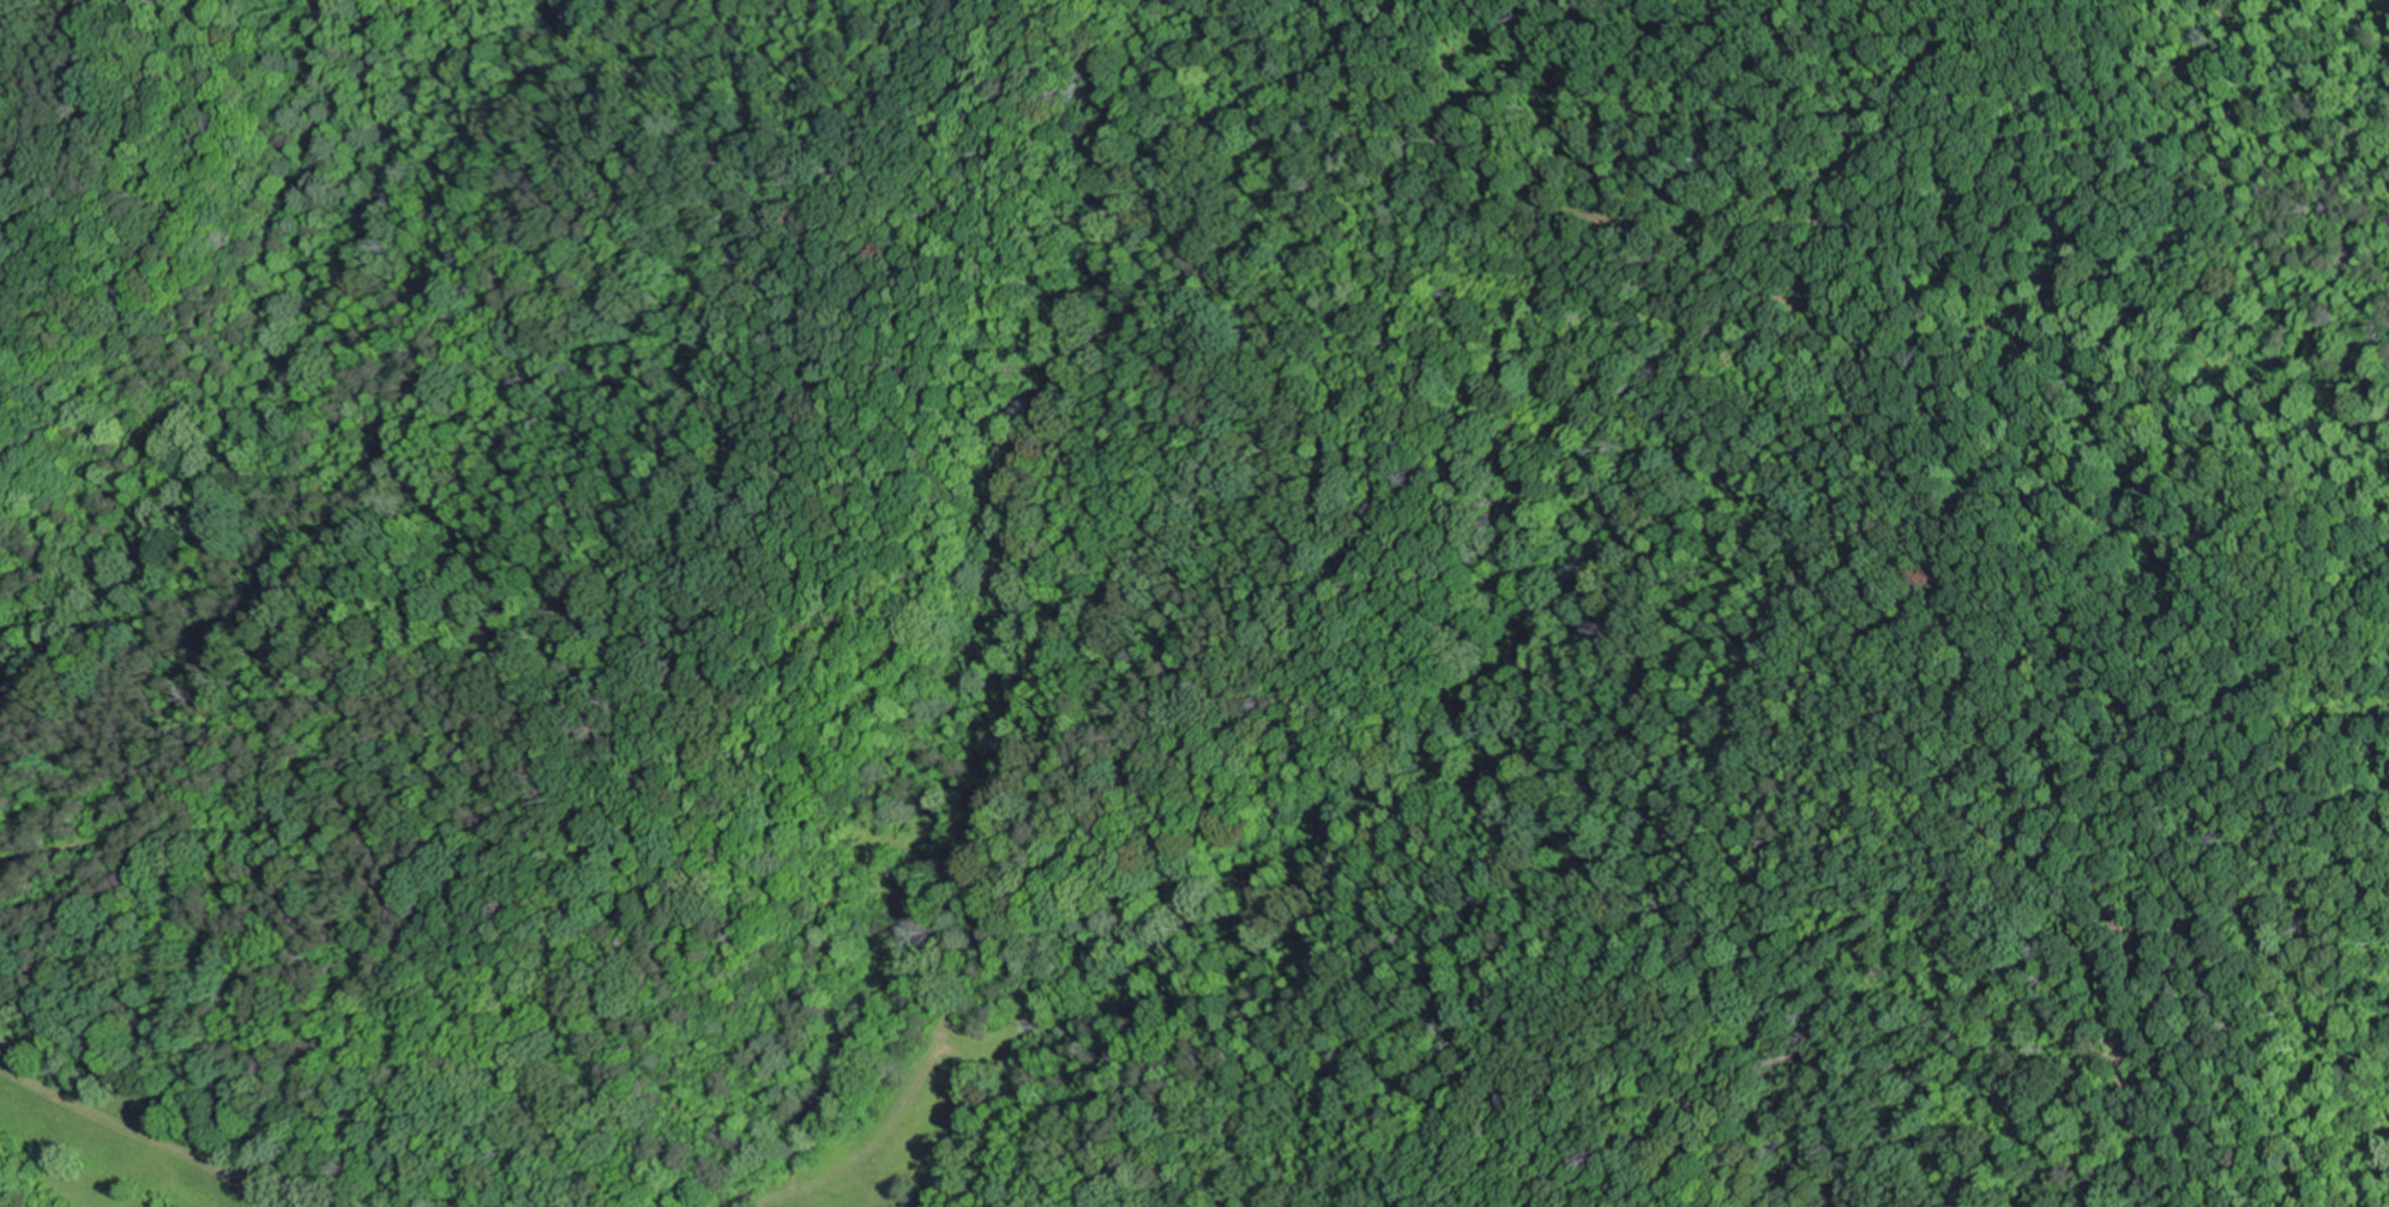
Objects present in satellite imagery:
road: (2385, 1194)

